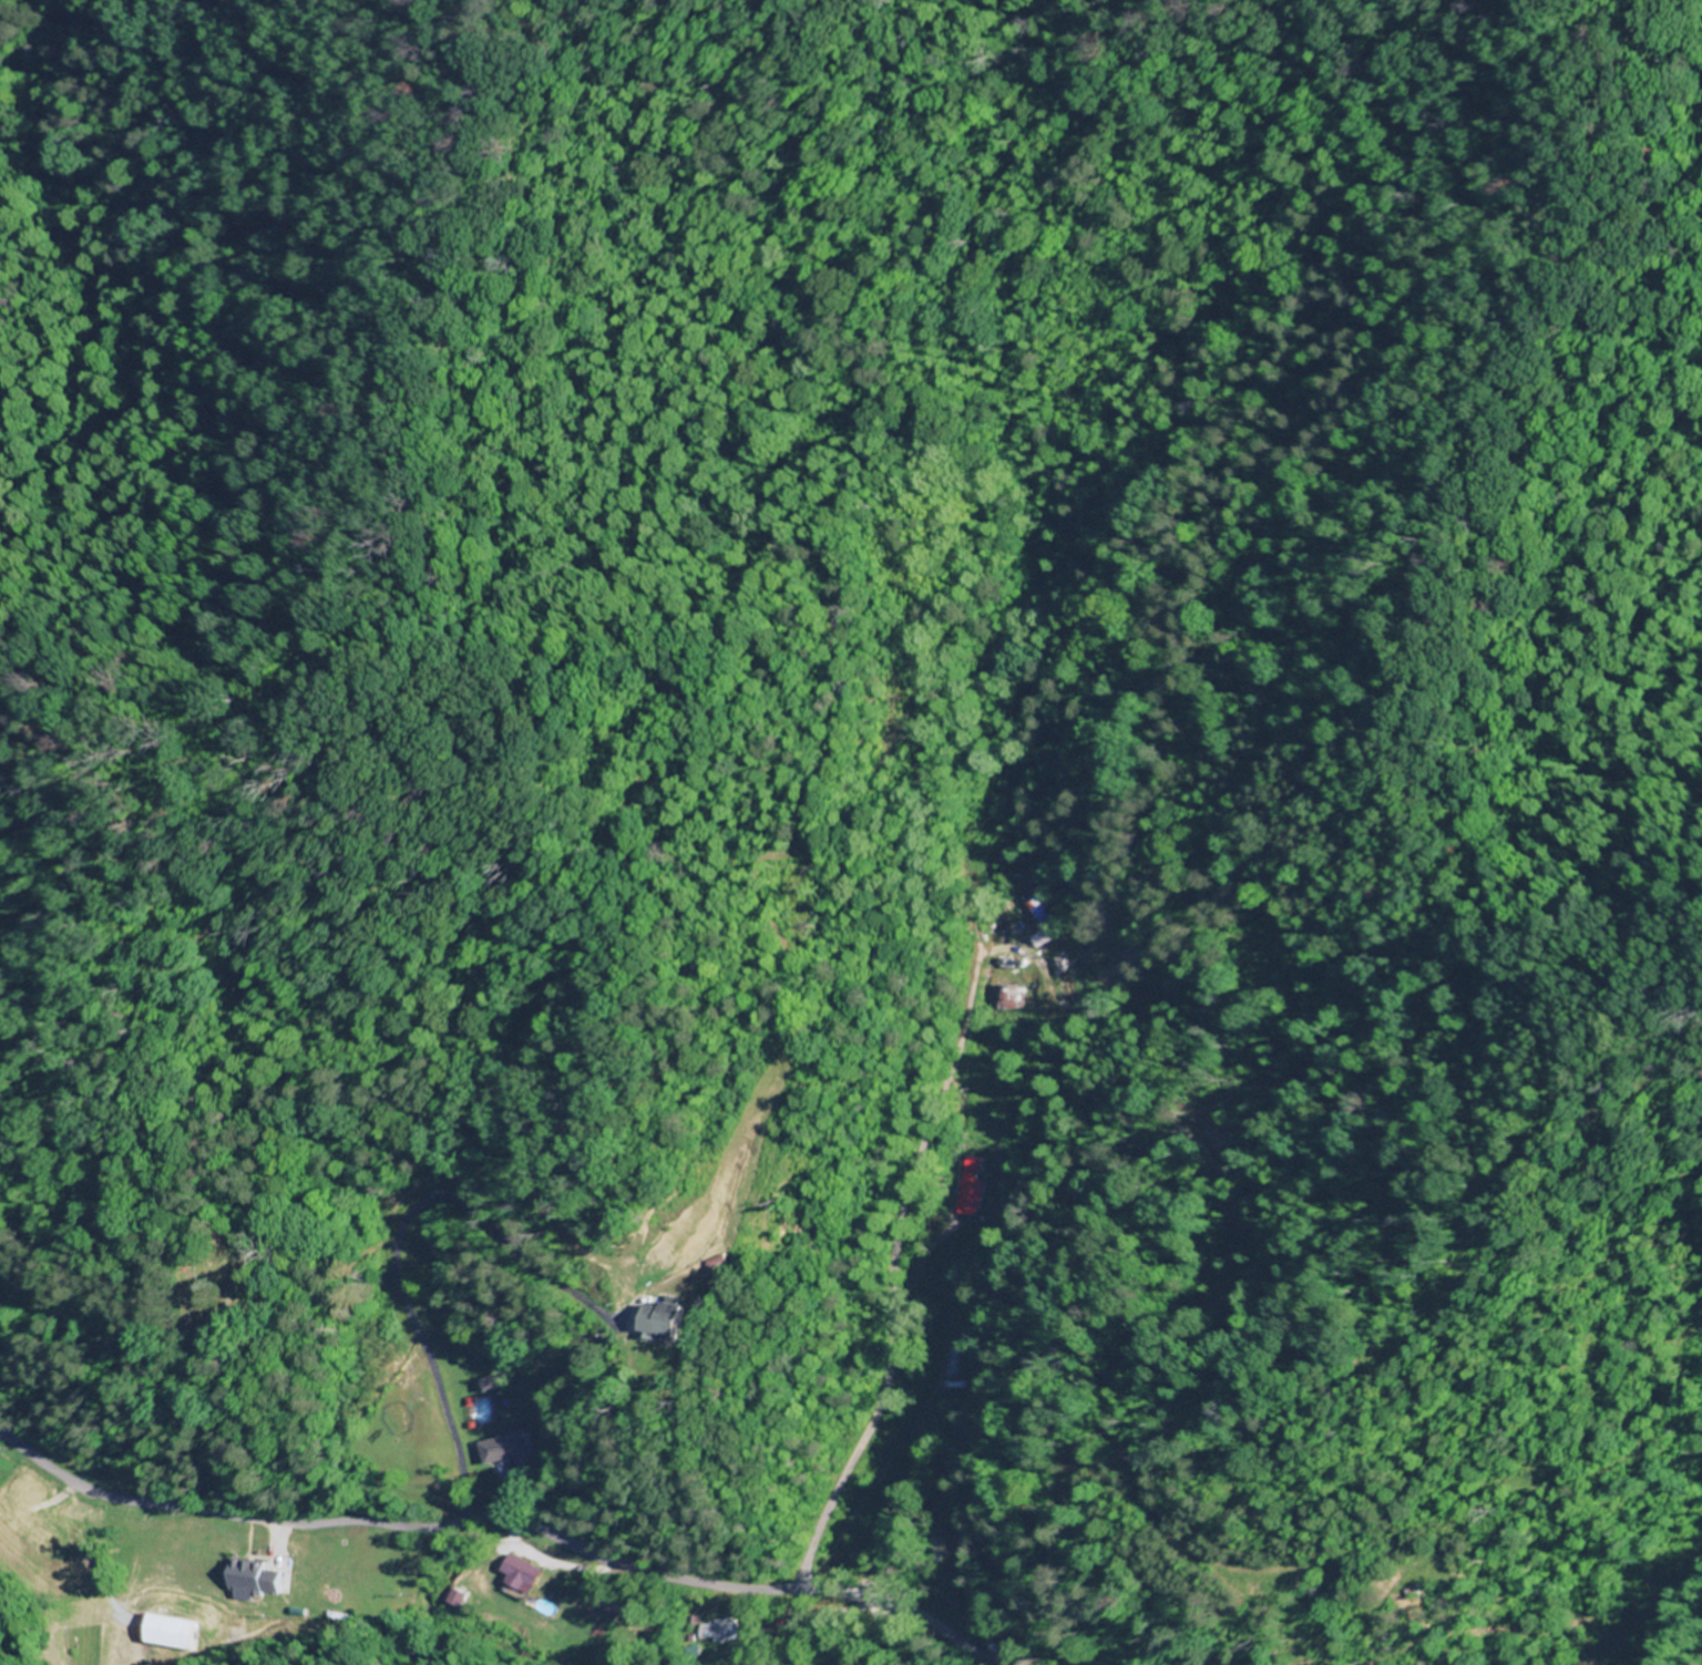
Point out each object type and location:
building: (1035, 915)
building: (1063, 980)
building: (966, 1188)
road: (890, 1275)
building: (673, 1323)
building: (946, 1364)
building: (484, 1383)
building: (500, 1448)
road: (495, 1524)
building: (34, 1536)
building: (937, 1548)
building: (517, 1574)
building: (315, 1580)
building: (715, 1631)
building: (170, 1632)

